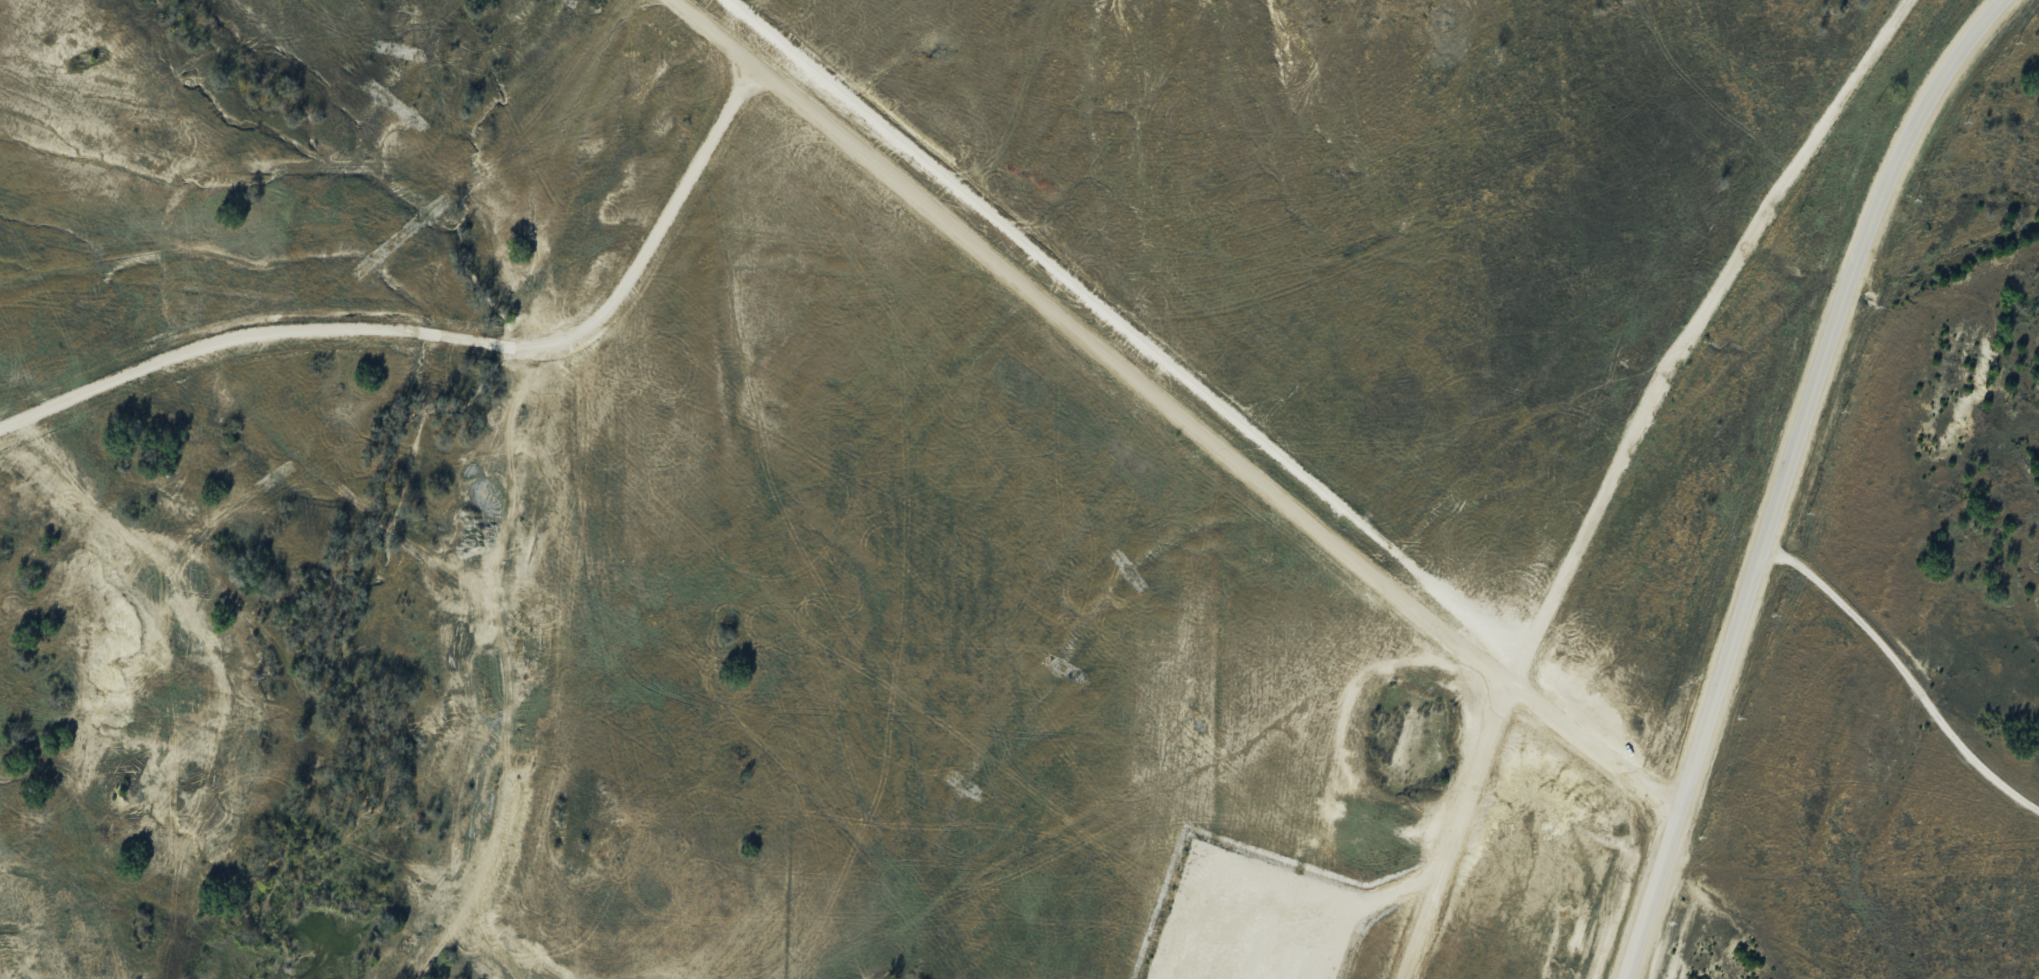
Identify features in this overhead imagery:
road: (1127, 326)
road: (462, 344)
road: (1814, 395)
road: (1175, 409)
road: (1618, 470)
road: (1649, 899)

